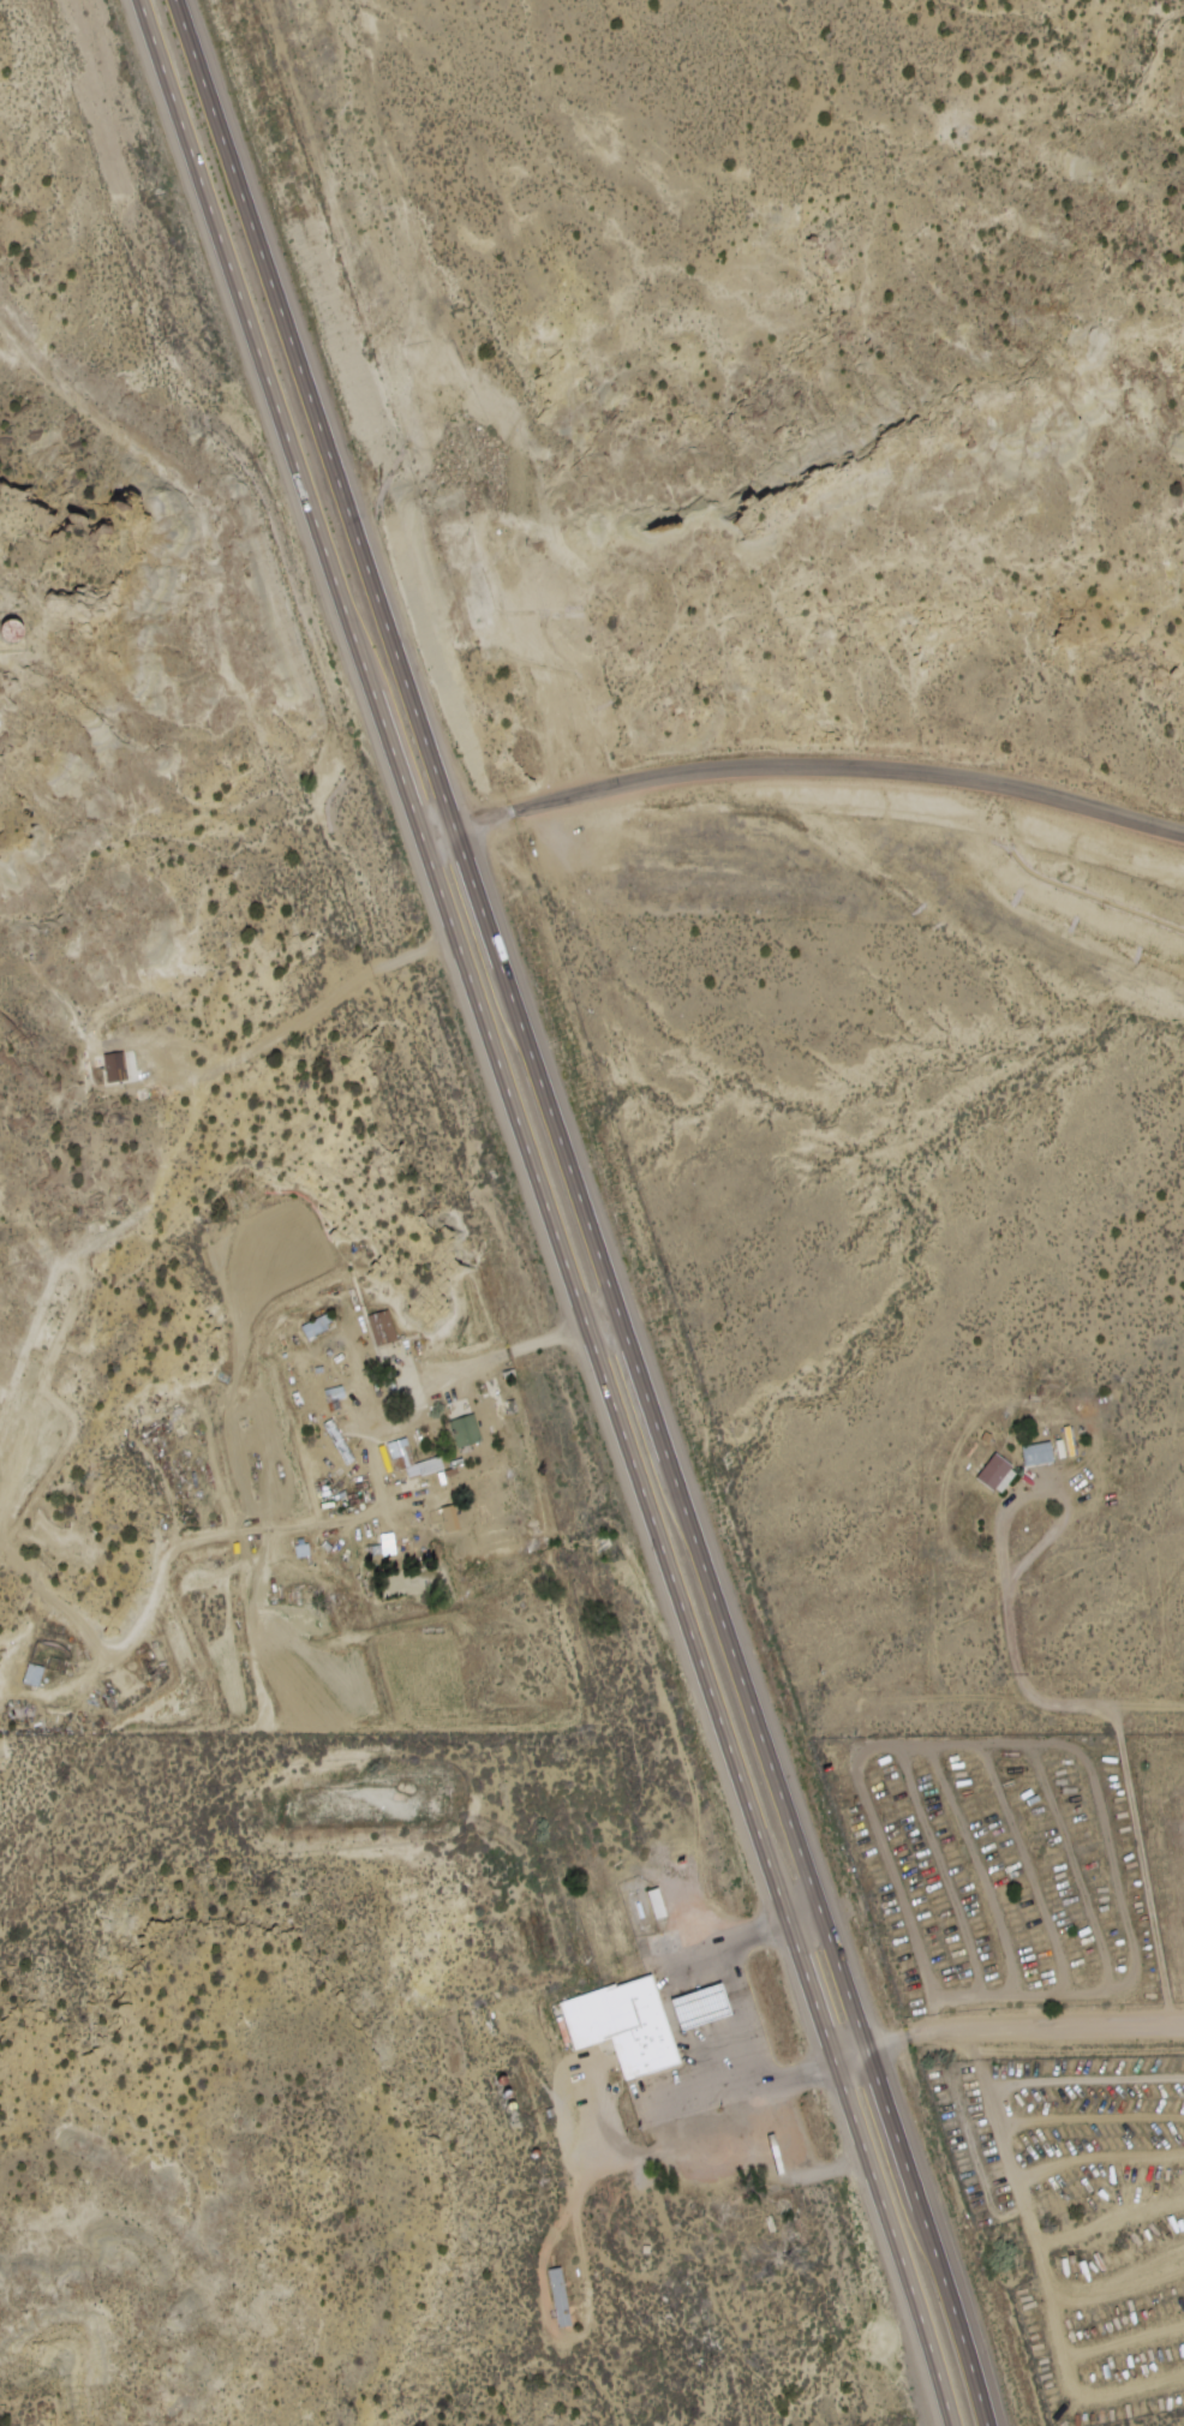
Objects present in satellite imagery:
road: (819, 766)
road: (438, 833)
building: (115, 1066)
road: (554, 1211)
road: (585, 1212)
building: (315, 1326)
building: (468, 1429)
building: (1041, 1453)
building: (998, 1472)
building: (444, 1519)
road: (333, 1523)
road: (1134, 1804)
building: (659, 1904)
building: (705, 2006)
building: (626, 2022)
road: (1011, 2027)
building: (560, 2297)

